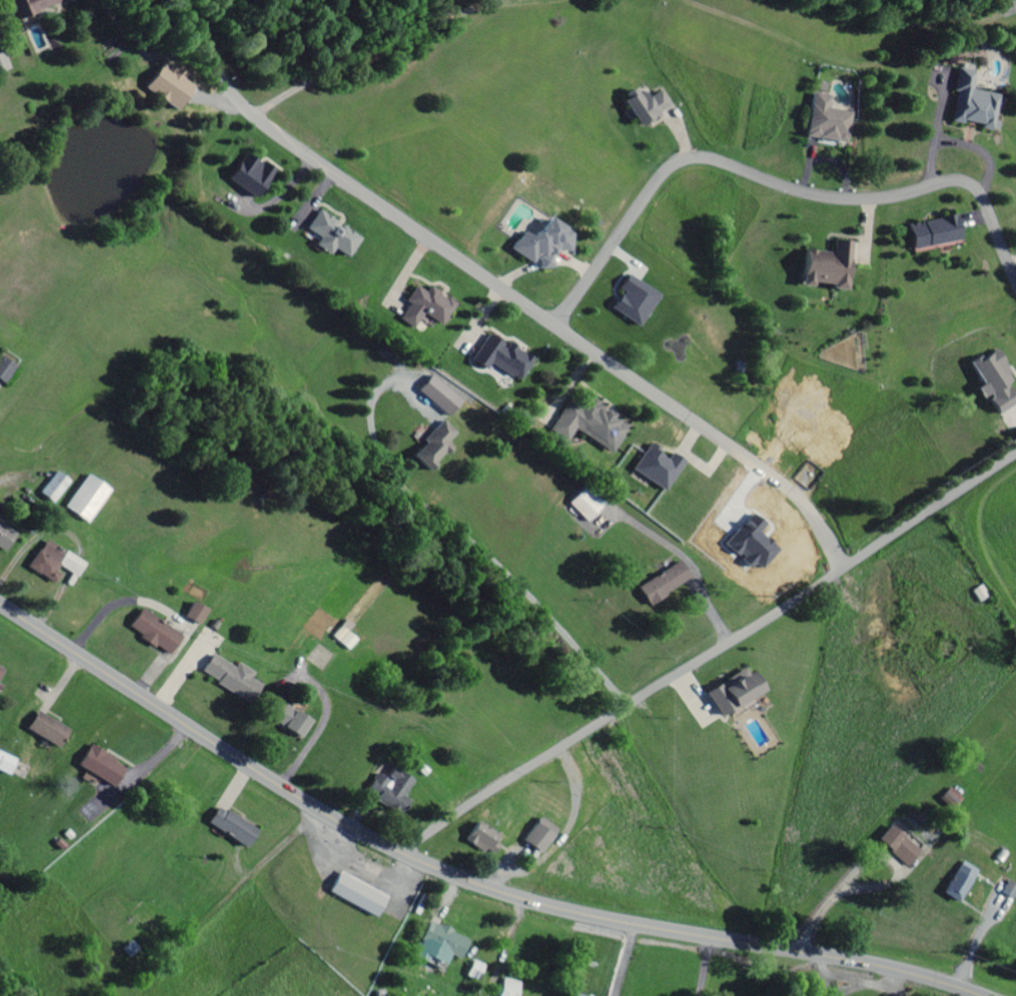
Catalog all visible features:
building: (32, 6)
building: (1, 65)
building: (169, 70)
building: (969, 104)
building: (641, 106)
building: (825, 121)
building: (248, 177)
road: (774, 181)
building: (931, 233)
building: (329, 236)
building: (540, 242)
building: (827, 271)
road: (502, 291)
building: (424, 307)
building: (503, 361)
building: (461, 417)
building: (588, 425)
building: (430, 446)
building: (53, 489)
building: (85, 500)
building: (586, 503)
building: (4, 539)
building: (51, 563)
building: (661, 584)
building: (192, 615)
building: (151, 634)
road: (710, 656)
building: (0, 670)
building: (228, 679)
building: (729, 693)
building: (284, 720)
building: (44, 731)
building: (5, 766)
building: (98, 767)
building: (388, 792)
building: (949, 801)
building: (229, 828)
building: (535, 836)
building: (479, 840)
building: (897, 848)
road: (458, 876)
building: (958, 883)
building: (354, 896)
building: (440, 941)
building: (505, 988)
building: (574, 995)

